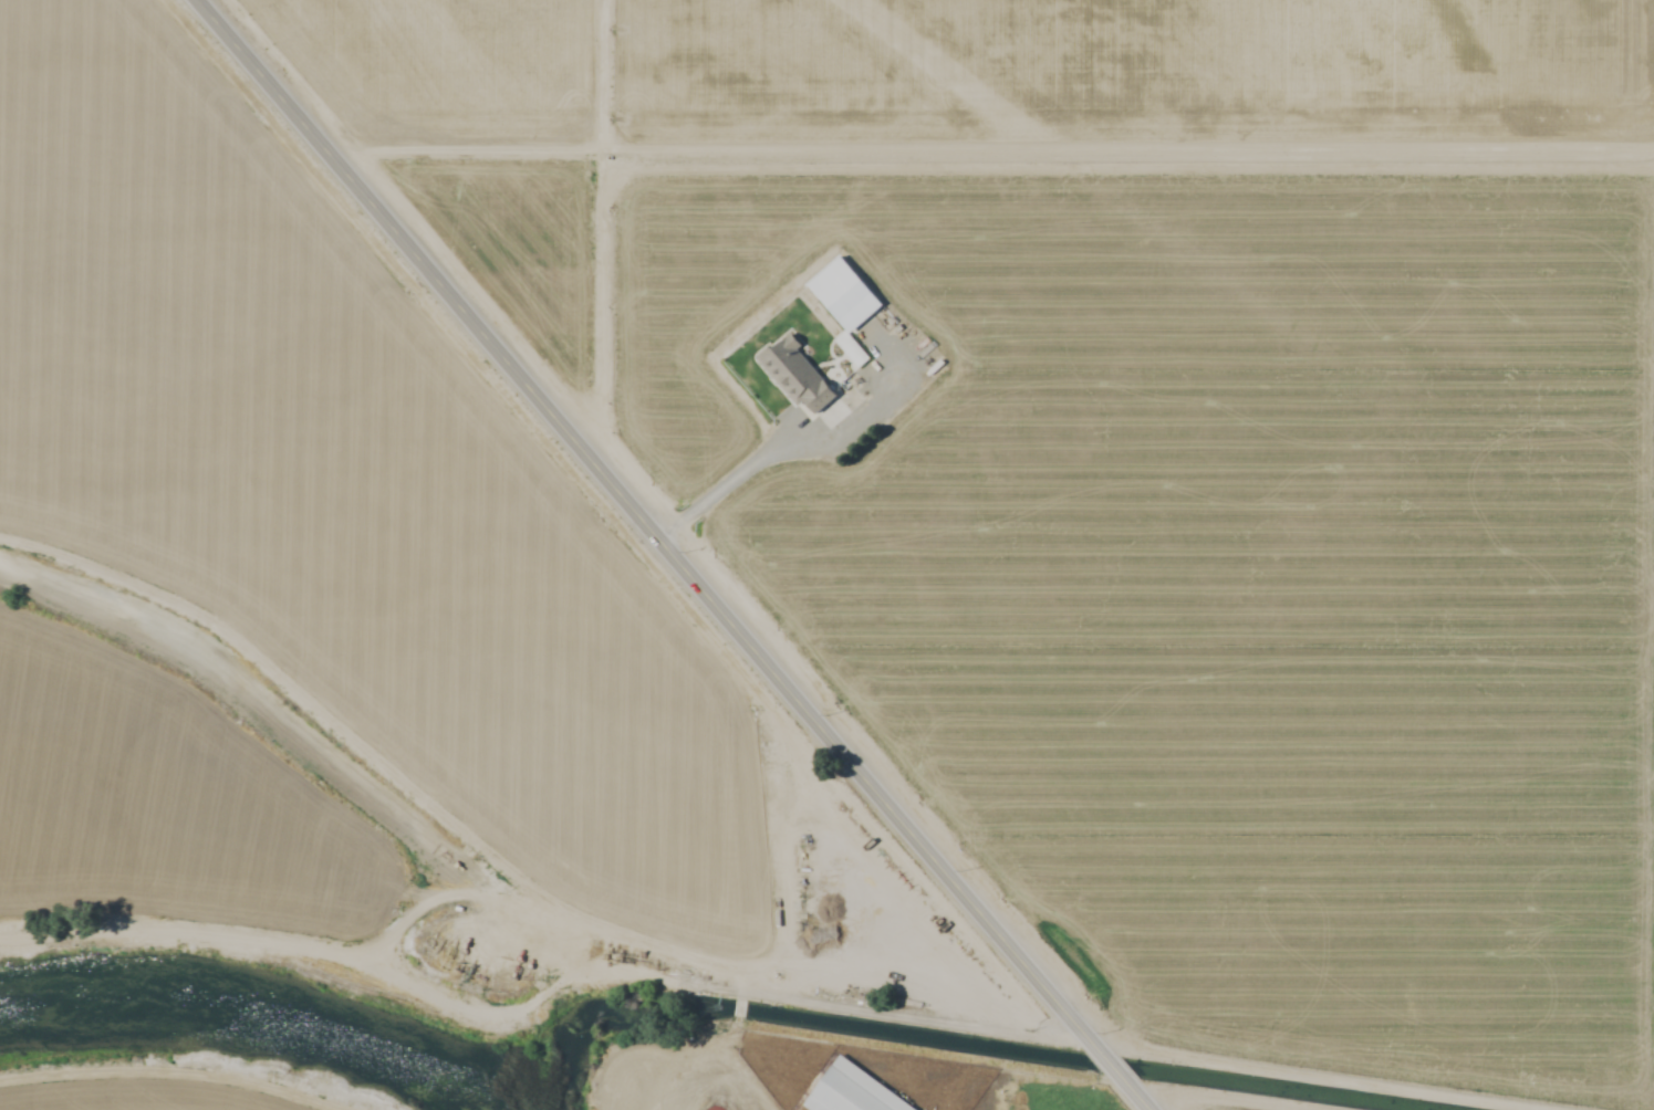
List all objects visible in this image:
building: (831, 284)
building: (795, 378)
road: (725, 485)
road: (643, 521)
road: (773, 828)
road: (738, 1009)
road: (1106, 1061)
road: (743, 1070)
road: (177, 1071)
building: (849, 1092)
road: (1134, 1095)
road: (1203, 1099)

